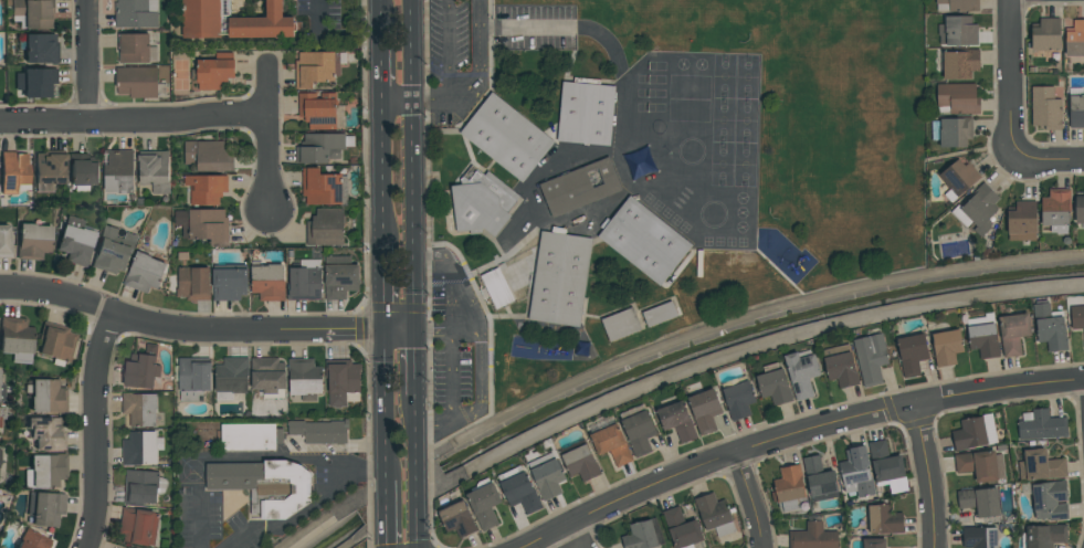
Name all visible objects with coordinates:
building: (957, 4)
road: (318, 10)
road: (381, 12)
building: (32, 13)
building: (136, 13)
building: (232, 21)
building: (957, 31)
building: (1045, 35)
building: (1075, 39)
building: (134, 48)
building: (40, 49)
road: (448, 49)
road: (88, 61)
road: (381, 63)
building: (959, 64)
building: (317, 67)
building: (214, 71)
road: (476, 74)
building: (35, 82)
building: (137, 82)
road: (1012, 82)
building: (957, 98)
road: (399, 102)
building: (1045, 108)
building: (318, 110)
building: (1076, 112)
building: (586, 114)
road: (136, 123)
building: (951, 131)
building: (506, 138)
road: (271, 139)
building: (322, 147)
building: (210, 156)
road: (415, 162)
road: (1049, 164)
building: (48, 170)
building: (154, 170)
road: (382, 170)
building: (83, 171)
building: (14, 172)
building: (118, 172)
building: (958, 179)
building: (580, 187)
building: (324, 188)
building: (206, 189)
building: (481, 202)
building: (978, 210)
building: (1056, 210)
building: (1080, 211)
building: (1022, 221)
building: (203, 224)
building: (326, 228)
building: (32, 241)
building: (75, 241)
building: (644, 241)
building: (4, 242)
building: (113, 251)
building: (144, 273)
building: (339, 277)
building: (559, 280)
building: (267, 281)
building: (305, 281)
building: (230, 282)
road: (382, 282)
building: (193, 284)
building: (497, 288)
building: (660, 314)
building: (1077, 317)
building: (621, 324)
road: (446, 326)
building: (1050, 327)
road: (204, 329)
building: (1013, 333)
building: (982, 334)
building: (15, 338)
building: (55, 342)
road: (480, 347)
building: (946, 347)
building: (912, 354)
building: (871, 358)
road: (417, 360)
building: (841, 366)
building: (143, 369)
building: (801, 373)
building: (231, 377)
building: (267, 377)
building: (192, 378)
building: (304, 378)
building: (343, 381)
building: (775, 384)
building: (2, 392)
building: (45, 396)
building: (738, 397)
road: (383, 402)
building: (139, 409)
building: (705, 410)
building: (2, 412)
building: (677, 421)
building: (1041, 424)
building: (638, 430)
road: (96, 431)
building: (319, 431)
building: (975, 432)
building: (45, 433)
building: (250, 436)
road: (796, 438)
building: (613, 445)
building: (140, 447)
building: (581, 463)
building: (981, 465)
building: (1041, 465)
building: (887, 467)
building: (2, 468)
road: (337, 470)
building: (45, 471)
road: (417, 472)
building: (856, 472)
road: (928, 476)
building: (548, 478)
building: (819, 479)
building: (143, 487)
building: (264, 487)
building: (788, 487)
building: (519, 489)
building: (1048, 499)
building: (979, 500)
building: (484, 503)
road: (749, 503)
building: (44, 508)
building: (713, 513)
road: (385, 514)
building: (884, 519)
building: (457, 520)
road: (200, 523)
road: (293, 524)
building: (139, 526)
building: (682, 529)
building: (641, 536)
building: (812, 536)
building: (1045, 536)
road: (575, 537)
building: (979, 537)
building: (32, 540)
building: (874, 544)
building: (128, 547)

